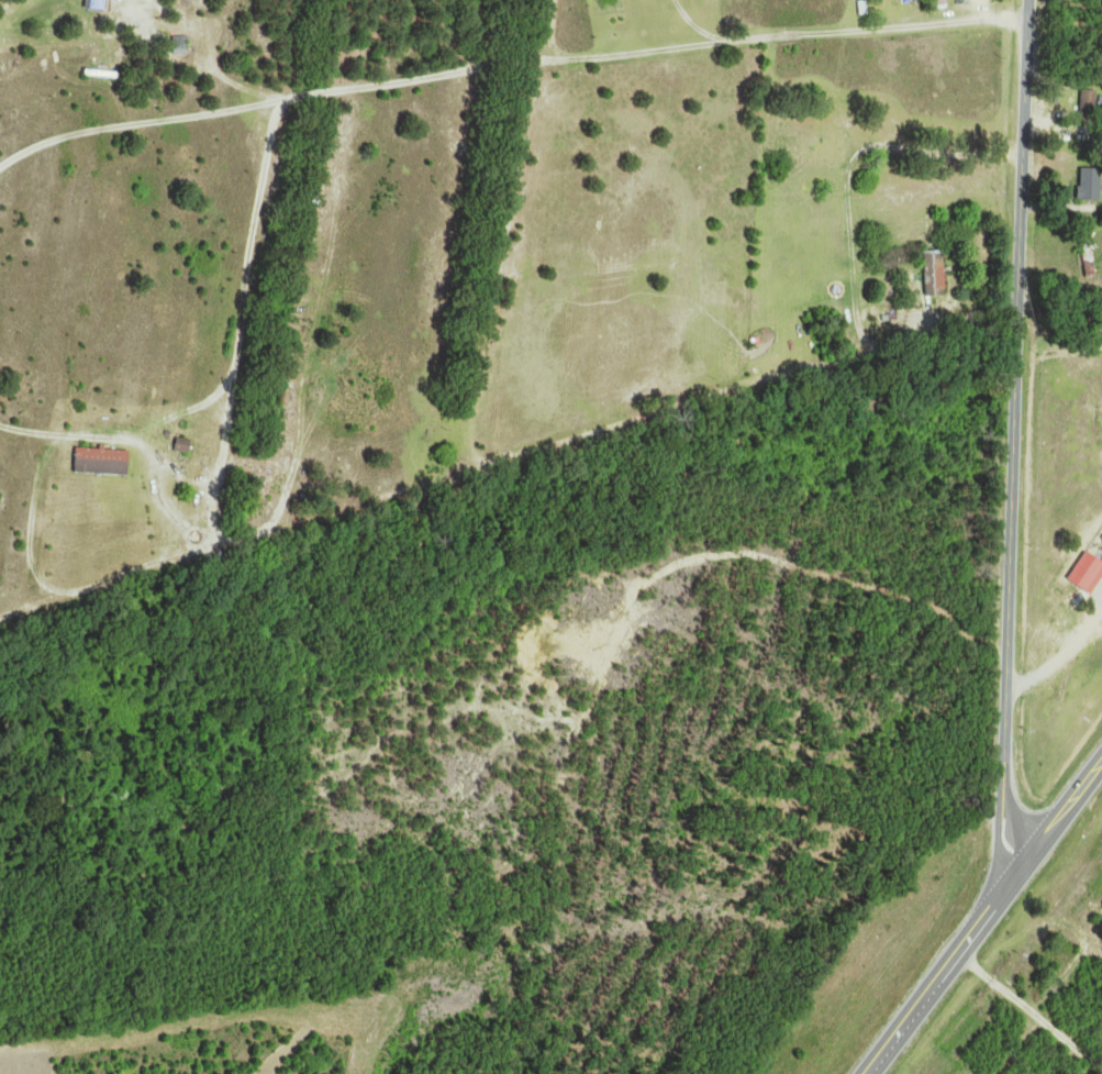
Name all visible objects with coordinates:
building: (98, 4)
building: (182, 44)
building: (1091, 103)
road: (937, 155)
building: (1092, 185)
building: (1090, 258)
building: (282, 398)
road: (1014, 438)
building: (185, 445)
building: (104, 462)
road: (984, 918)
road: (1029, 1010)

